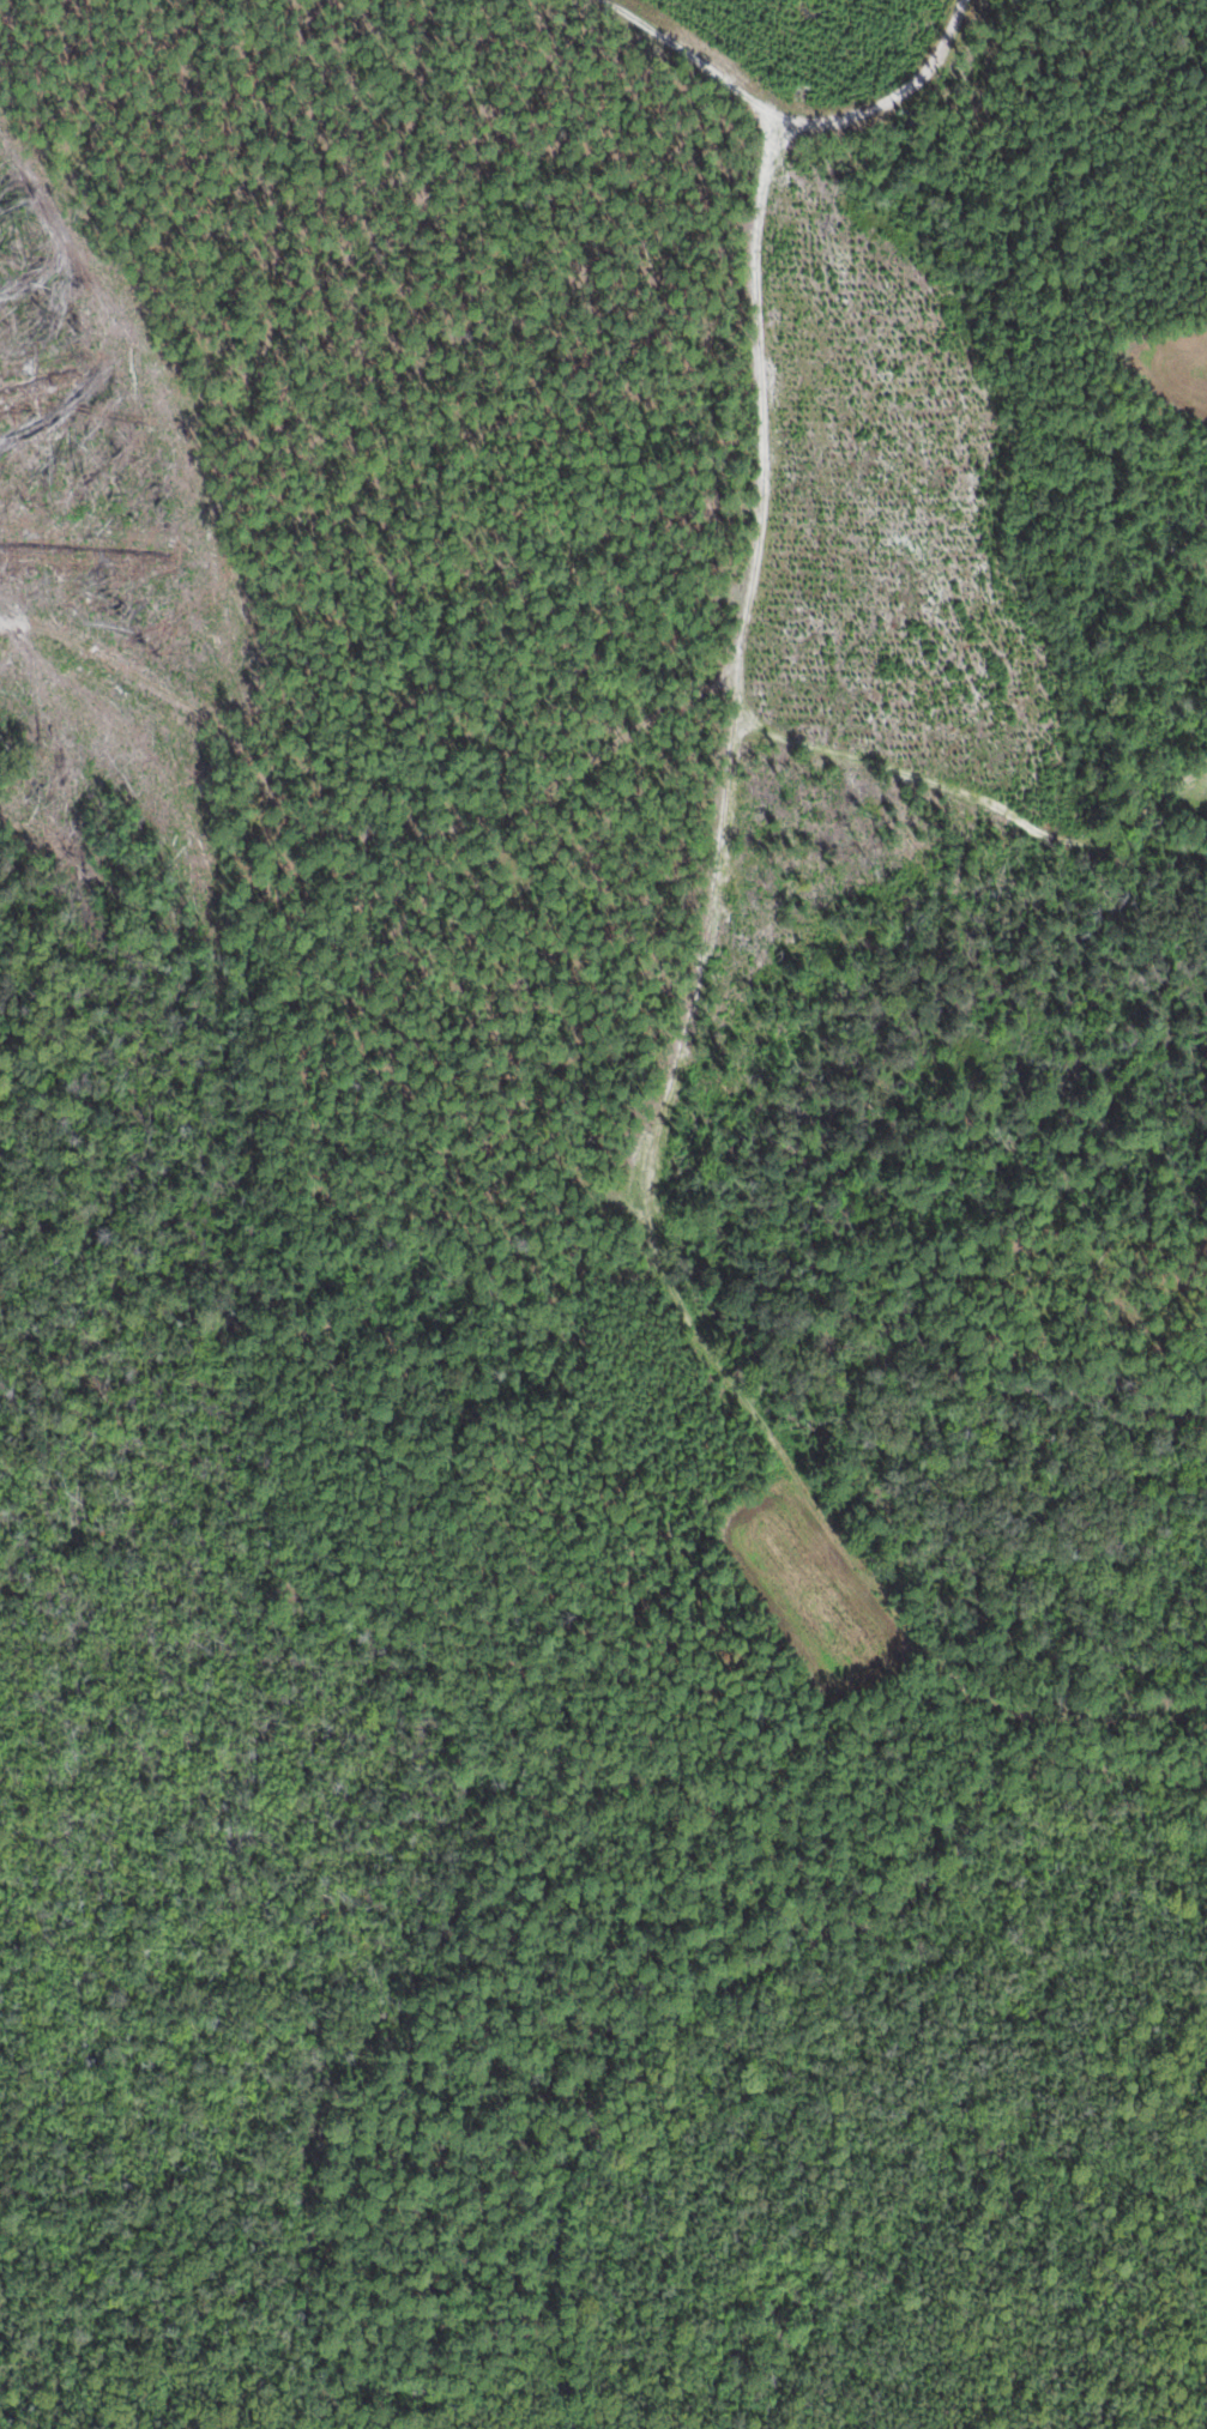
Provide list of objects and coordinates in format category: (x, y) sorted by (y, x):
road: (777, 22)
road: (521, 792)
road: (328, 937)
road: (598, 1189)

